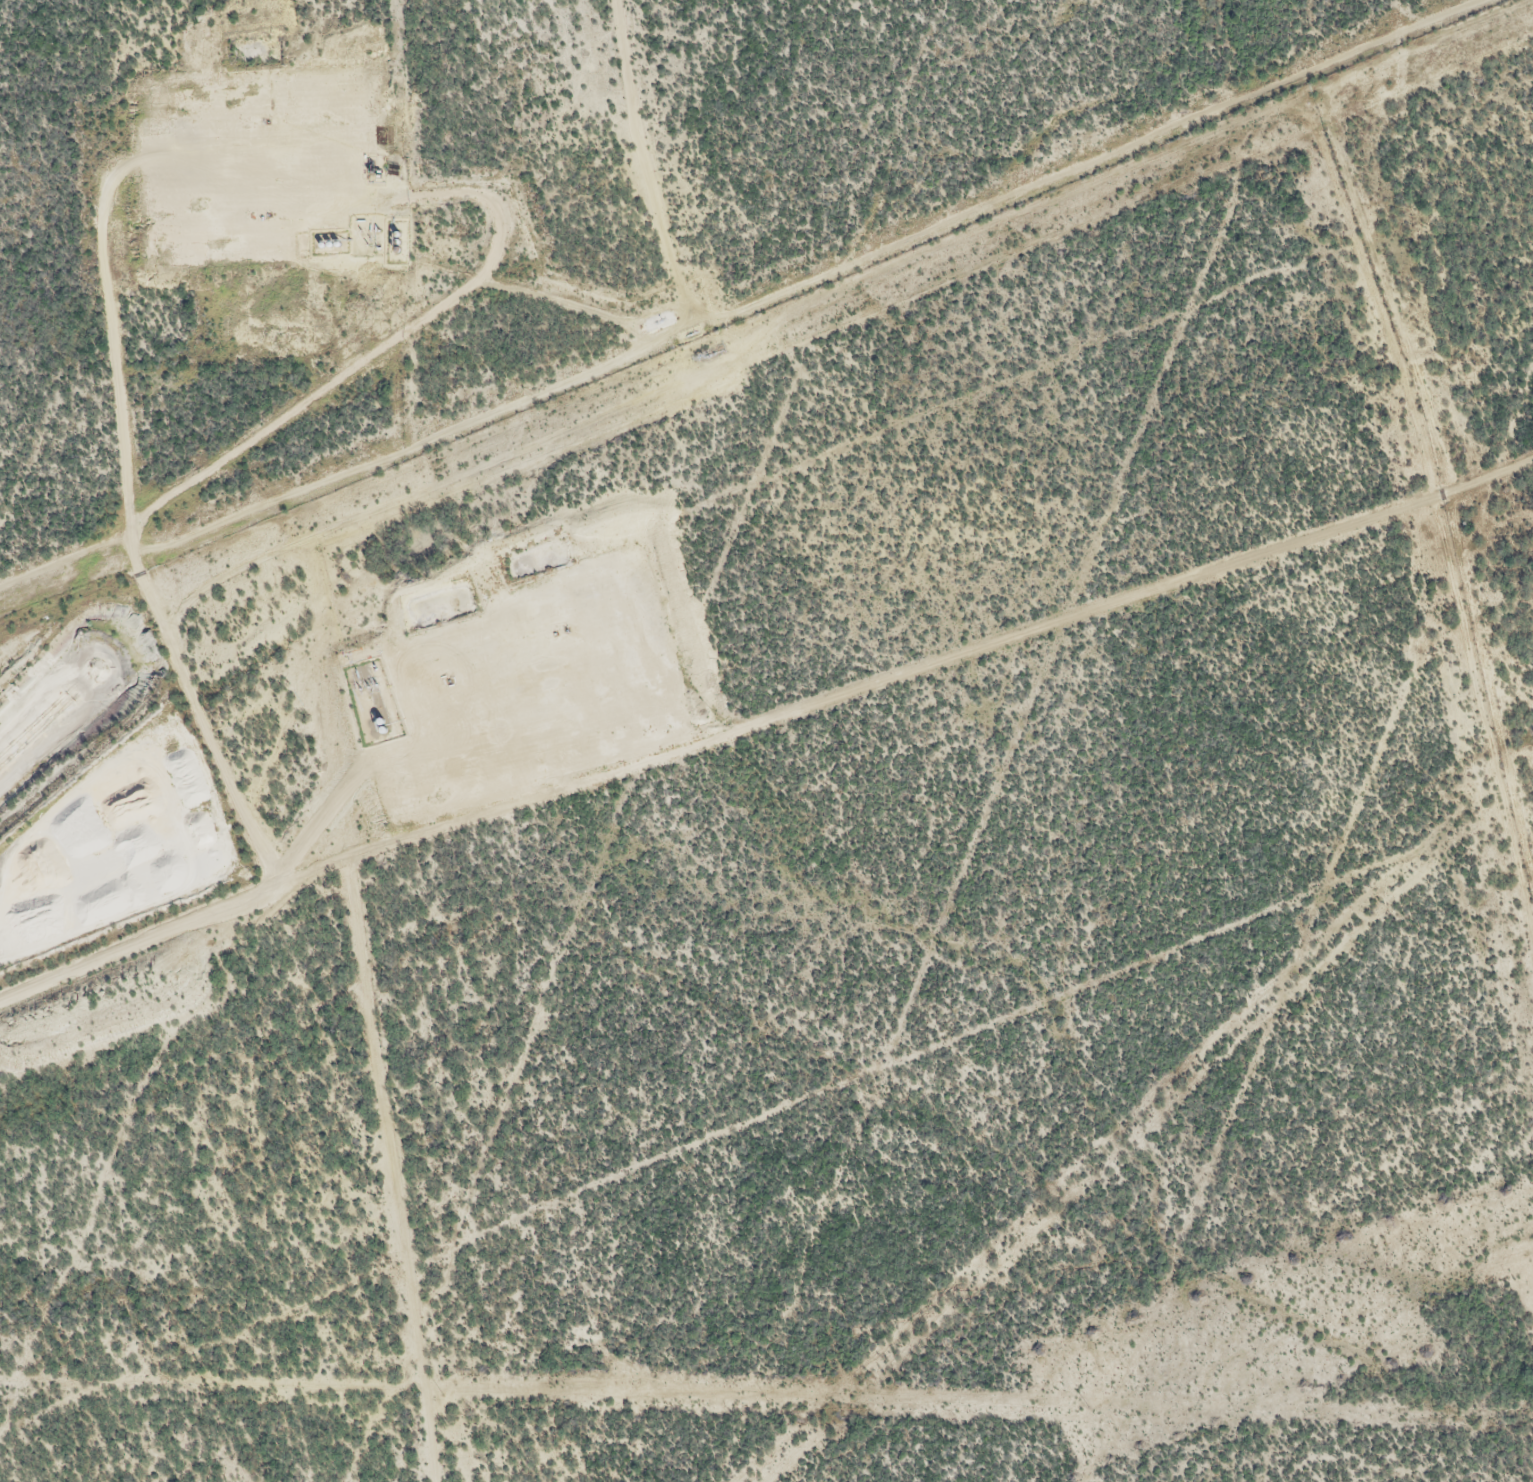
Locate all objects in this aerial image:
road: (118, 316)
road: (922, 660)
railway: (40, 710)
railway: (46, 721)
road: (399, 747)

